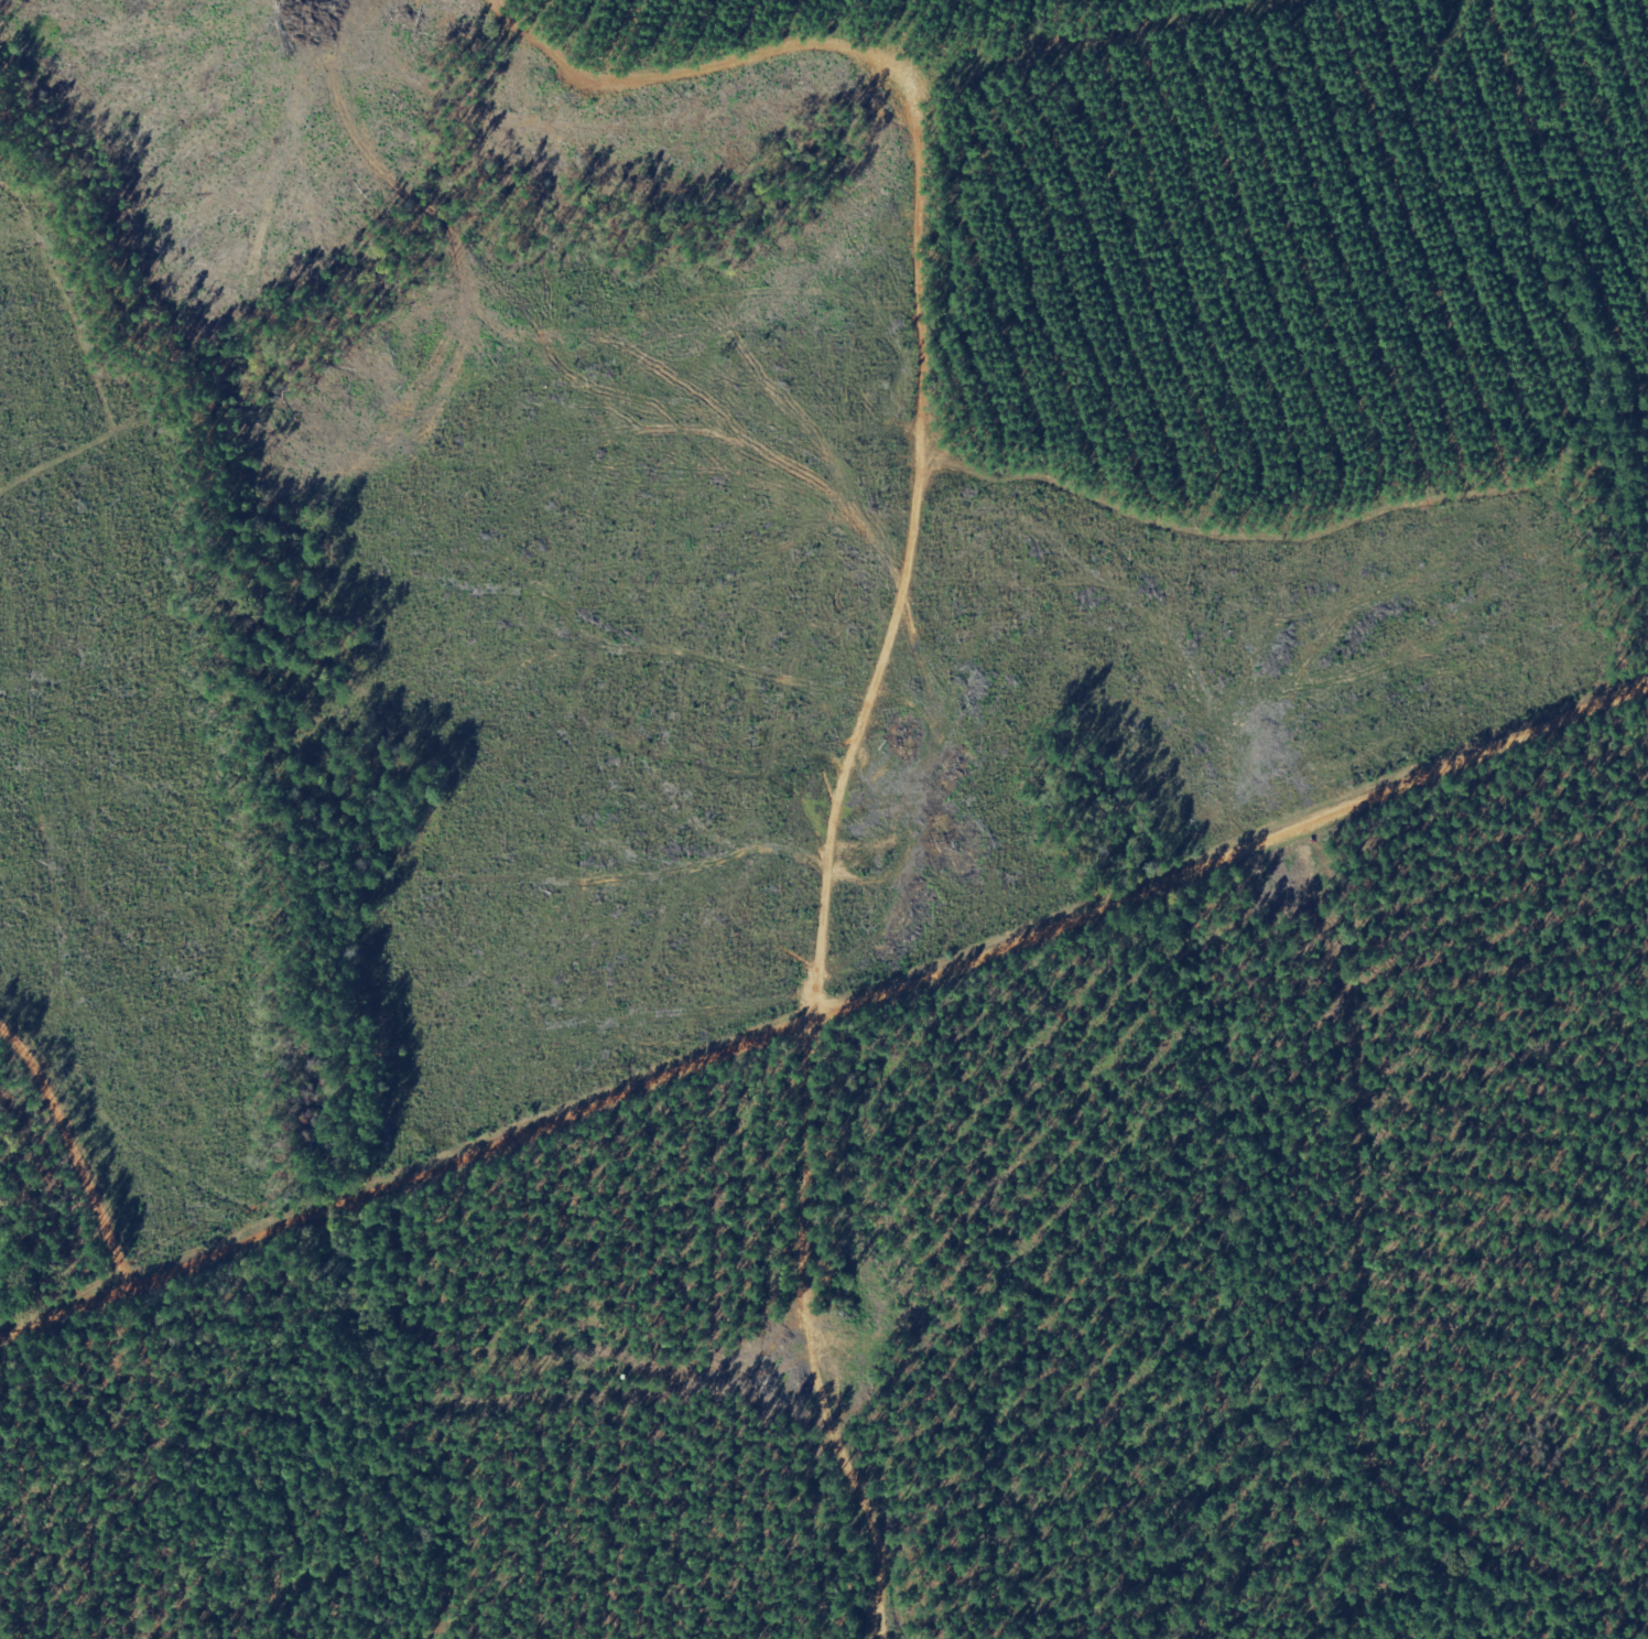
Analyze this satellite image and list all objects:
road: (827, 1046)

